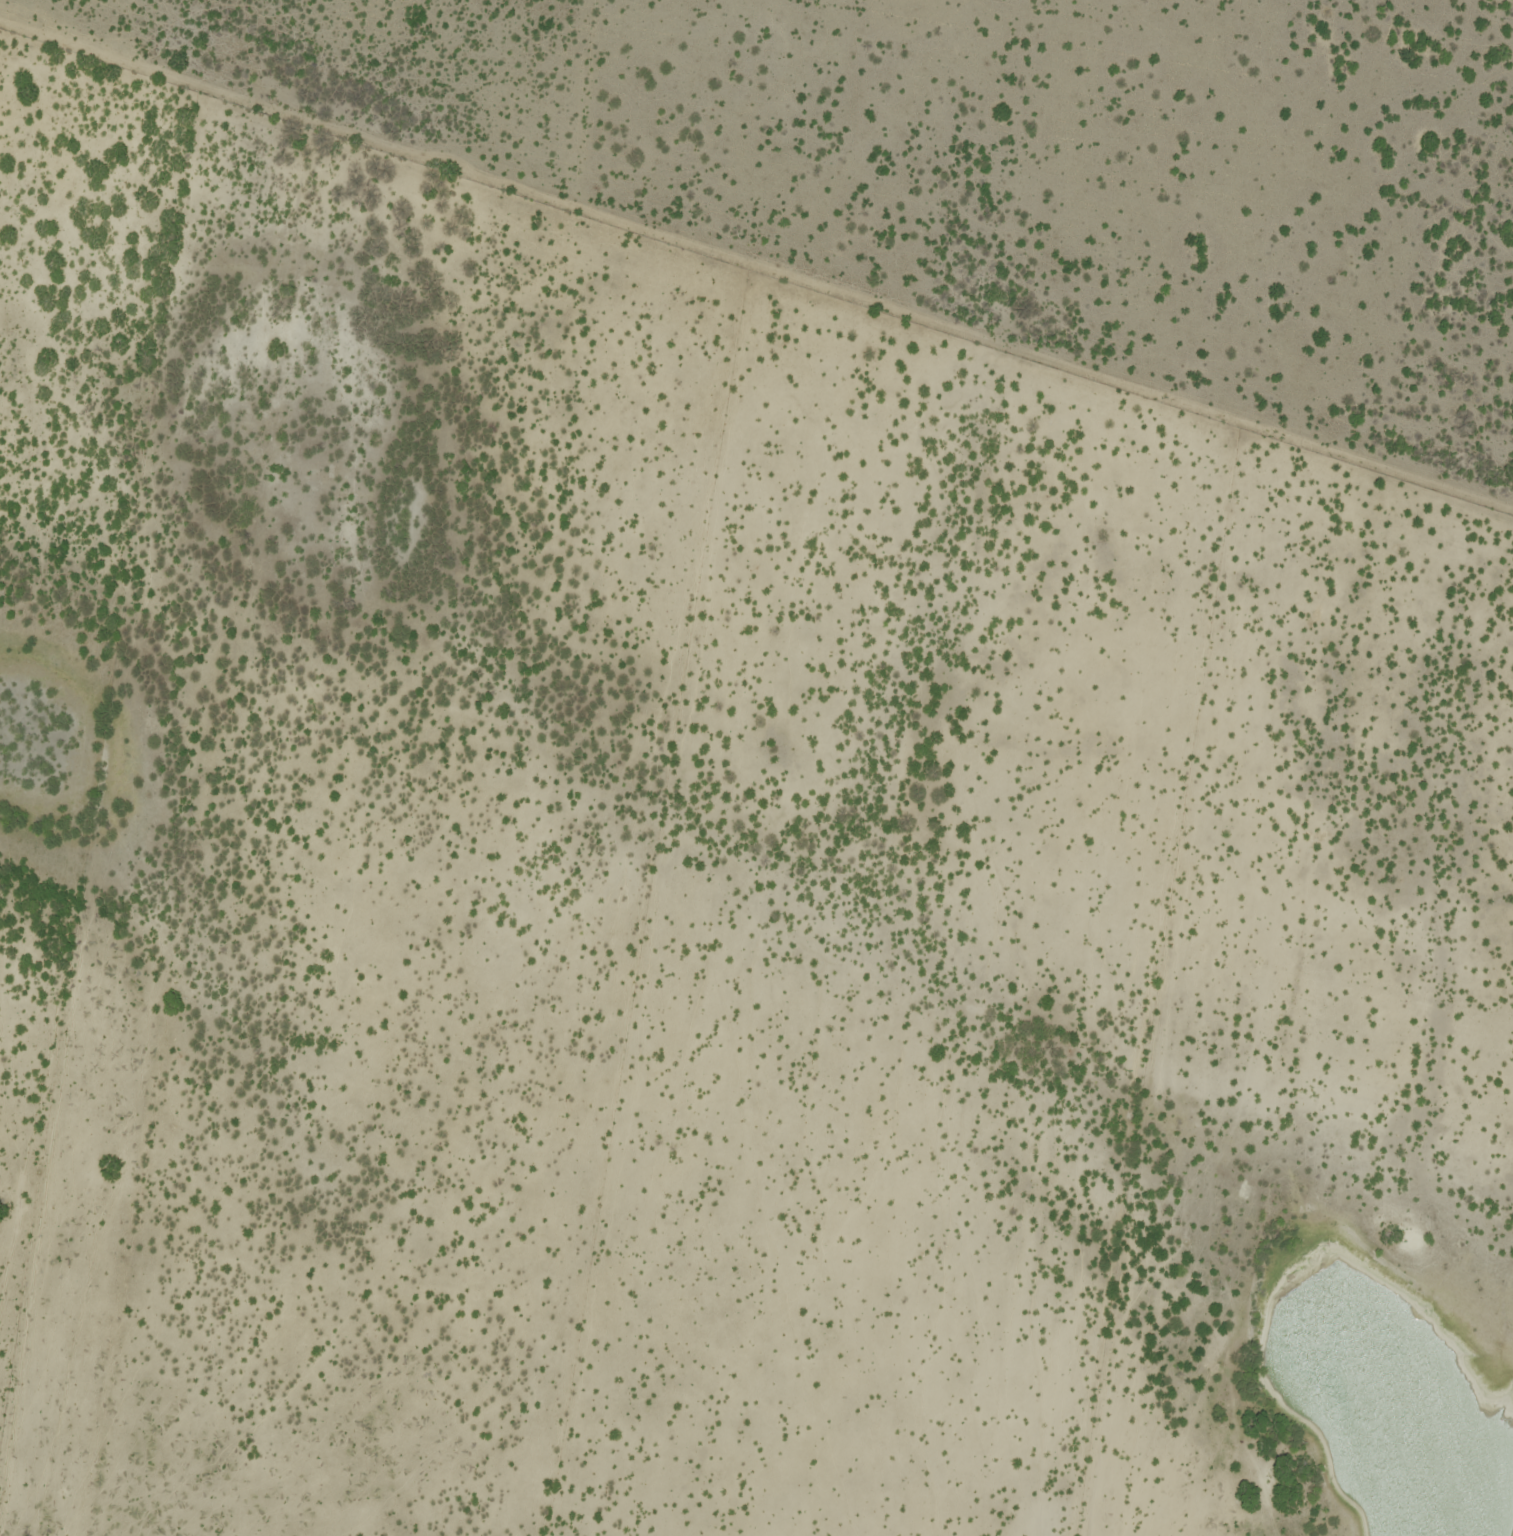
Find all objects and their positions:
road: (756, 255)

